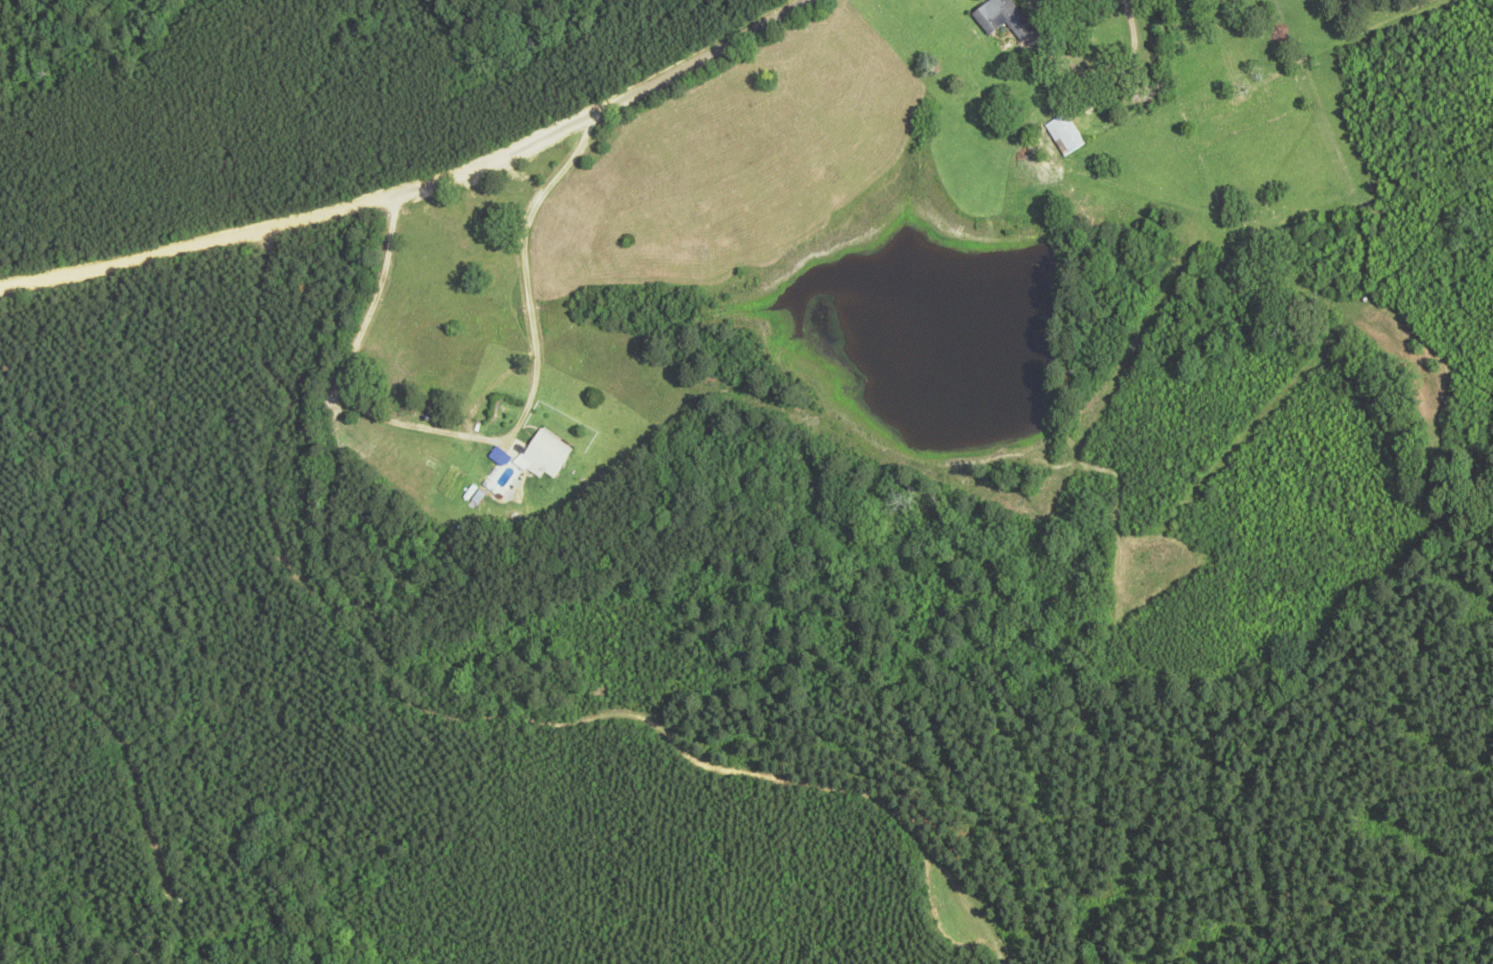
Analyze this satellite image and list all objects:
building: (1005, 20)
road: (570, 113)
building: (1067, 138)
road: (1252, 181)
road: (170, 253)
building: (527, 459)

